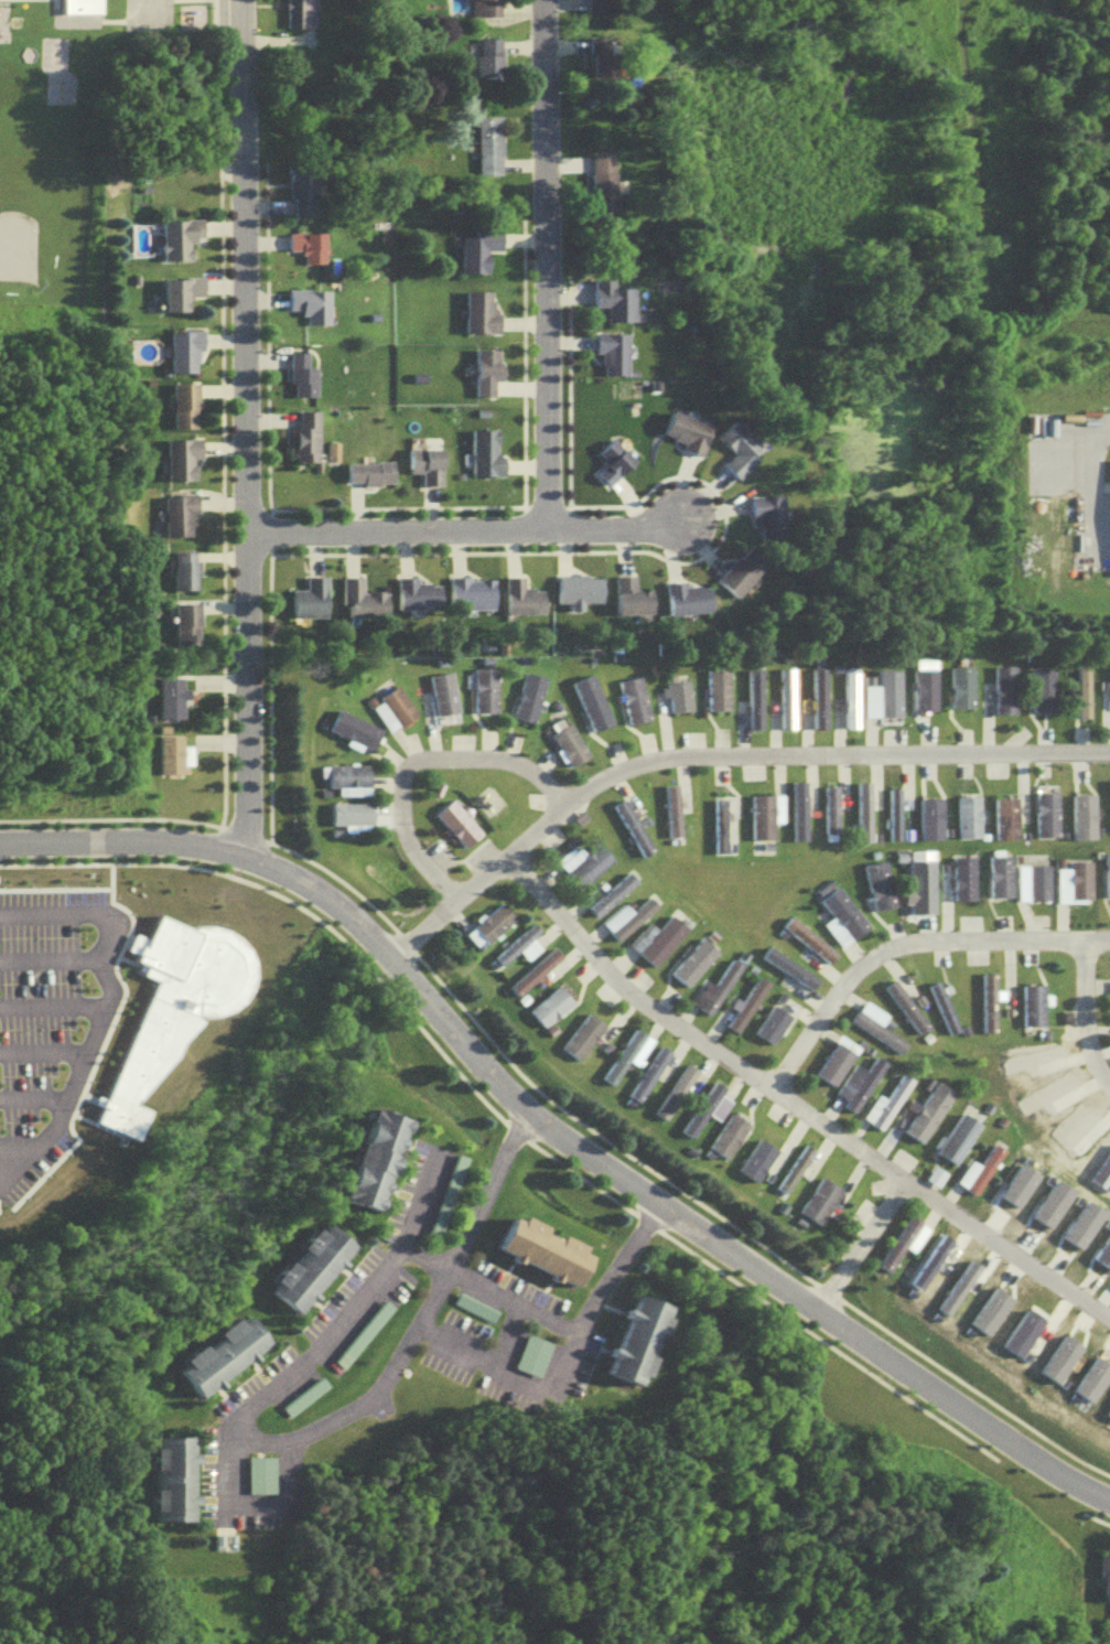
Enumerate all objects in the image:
building: (79, 4)
building: (602, 9)
building: (488, 11)
road: (99, 17)
building: (298, 18)
building: (606, 63)
building: (492, 64)
building: (491, 152)
building: (304, 197)
building: (607, 203)
park: (18, 244)
building: (183, 244)
building: (311, 254)
building: (479, 257)
road: (543, 268)
building: (184, 299)
building: (616, 307)
building: (313, 311)
building: (483, 320)
building: (188, 358)
building: (615, 358)
building: (488, 377)
building: (305, 383)
building: (188, 412)
road: (243, 429)
building: (689, 439)
building: (309, 443)
building: (742, 453)
building: (488, 459)
building: (185, 465)
building: (615, 469)
building: (430, 471)
building: (371, 479)
road: (1084, 480)
building: (769, 520)
building: (182, 522)
road: (461, 536)
building: (188, 577)
building: (744, 577)
building: (579, 597)
building: (473, 600)
building: (419, 602)
building: (524, 603)
building: (633, 603)
building: (689, 604)
building: (312, 605)
building: (363, 605)
building: (190, 631)
building: (959, 684)
building: (922, 686)
building: (713, 687)
building: (482, 688)
building: (1041, 688)
building: (886, 689)
building: (1003, 689)
building: (1081, 689)
building: (440, 690)
building: (676, 694)
building: (526, 695)
building: (751, 696)
building: (816, 696)
building: (847, 696)
building: (783, 697)
building: (631, 699)
building: (589, 700)
building: (175, 701)
building: (394, 701)
building: (352, 727)
building: (568, 743)
road: (713, 756)
building: (174, 760)
road: (412, 762)
building: (346, 774)
building: (434, 786)
building: (827, 806)
building: (795, 807)
building: (669, 808)
building: (860, 808)
building: (349, 810)
building: (762, 812)
building: (891, 812)
building: (1045, 813)
building: (966, 815)
building: (1080, 815)
building: (927, 816)
building: (1003, 816)
building: (454, 819)
building: (715, 823)
building: (629, 825)
building: (581, 860)
building: (1107, 871)
building: (998, 874)
building: (960, 875)
building: (1077, 875)
building: (917, 879)
building: (1034, 879)
building: (875, 883)
building: (608, 892)
building: (613, 900)
building: (838, 906)
building: (624, 915)
building: (484, 924)
building: (494, 930)
building: (805, 936)
building: (655, 937)
building: (515, 943)
road: (903, 943)
building: (807, 946)
building: (518, 953)
building: (690, 959)
building: (785, 964)
road: (50, 965)
building: (531, 969)
building: (790, 974)
building: (535, 978)
building: (711, 986)
building: (719, 991)
building: (984, 998)
building: (744, 1000)
building: (1030, 1002)
building: (547, 1003)
building: (902, 1004)
road: (107, 1006)
building: (939, 1007)
road: (52, 1011)
road: (1081, 1017)
building: (768, 1021)
building: (873, 1022)
building: (579, 1032)
building: (880, 1039)
building: (624, 1053)
road: (42, 1057)
building: (833, 1057)
building: (645, 1070)
building: (649, 1079)
building: (855, 1081)
building: (689, 1084)
building: (670, 1088)
road: (32, 1098)
building: (882, 1100)
building: (699, 1106)
road: (793, 1107)
building: (888, 1108)
building: (924, 1109)
building: (704, 1113)
building: (723, 1133)
road: (557, 1135)
building: (953, 1137)
building: (752, 1157)
building: (381, 1164)
building: (790, 1164)
building: (976, 1169)
building: (796, 1174)
building: (981, 1178)
building: (817, 1199)
building: (449, 1204)
building: (896, 1240)
road: (853, 1245)
building: (906, 1247)
building: (549, 1256)
road: (610, 1267)
building: (315, 1274)
road: (568, 1336)
building: (643, 1345)
building: (353, 1356)
building: (227, 1362)
building: (536, 1363)
building: (306, 1403)
road: (283, 1439)
building: (262, 1481)
building: (180, 1486)
road: (252, 1506)
building: (1107, 1576)

